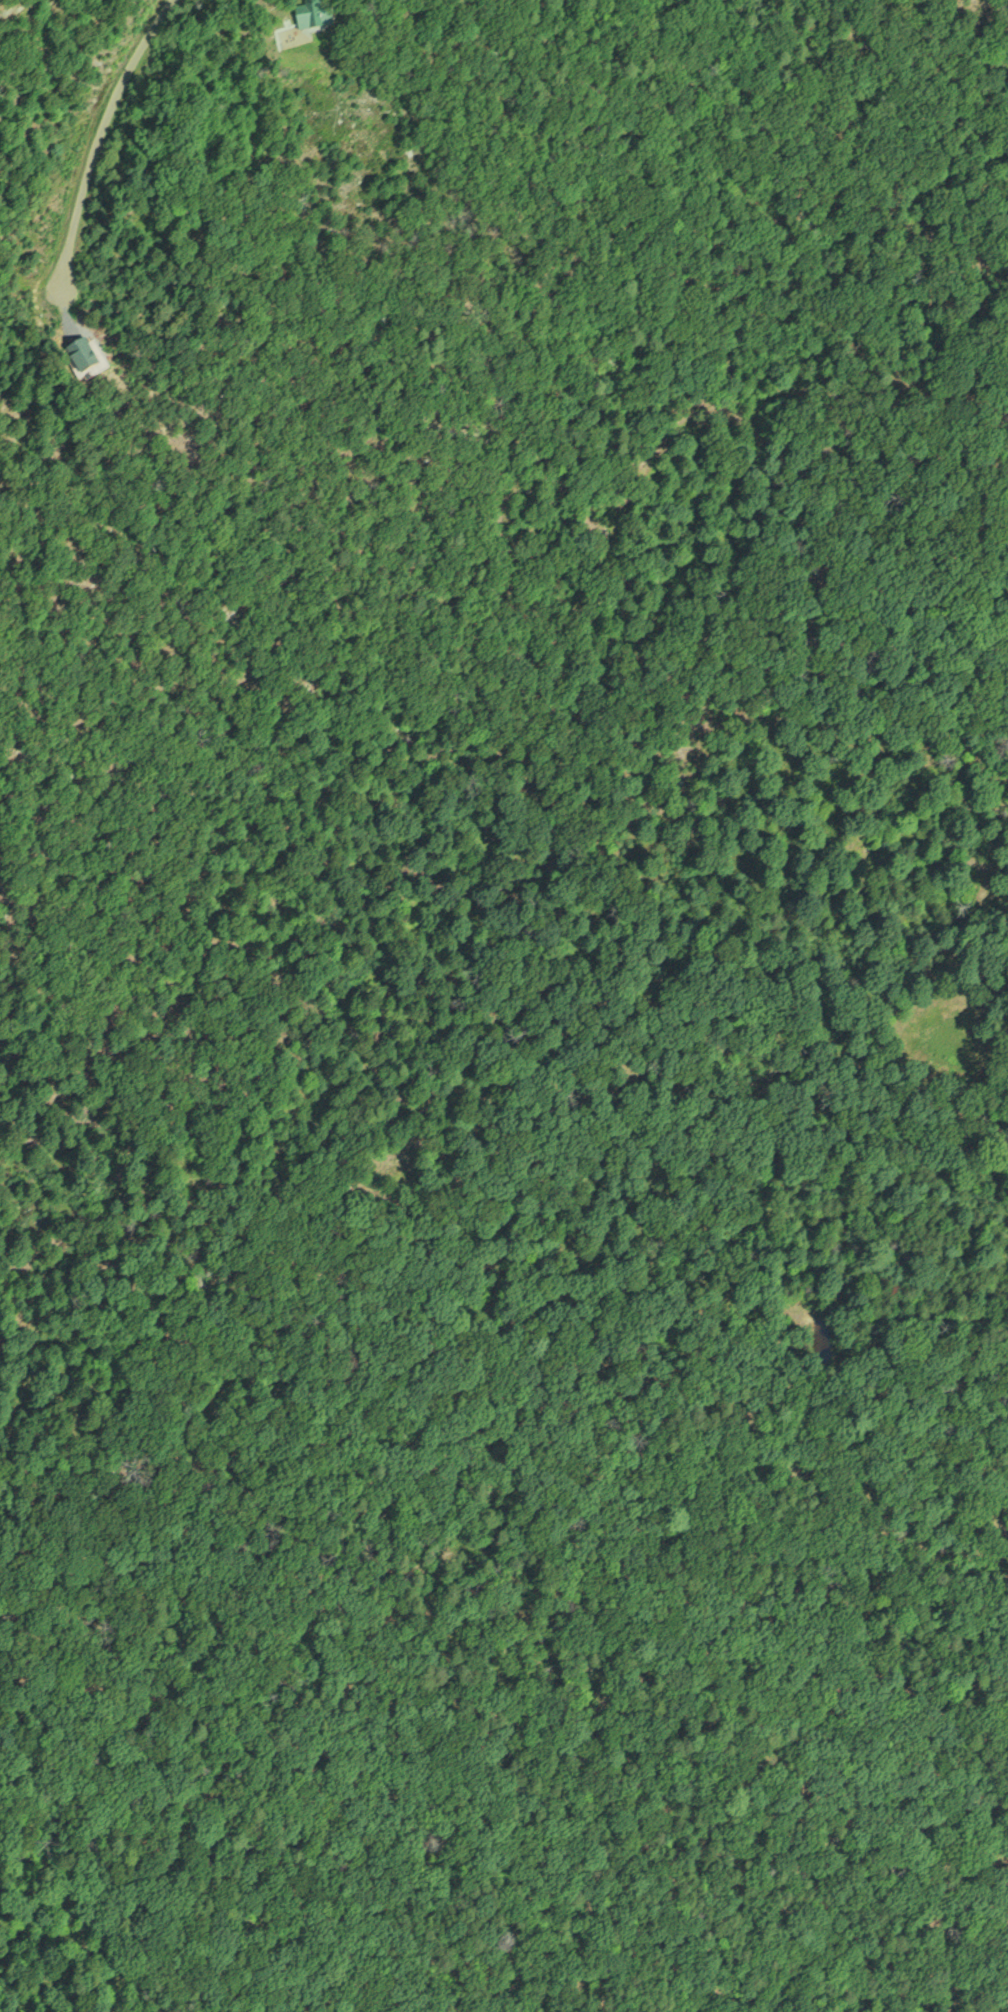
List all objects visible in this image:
building: (315, 14)
road: (123, 128)
building: (82, 356)

